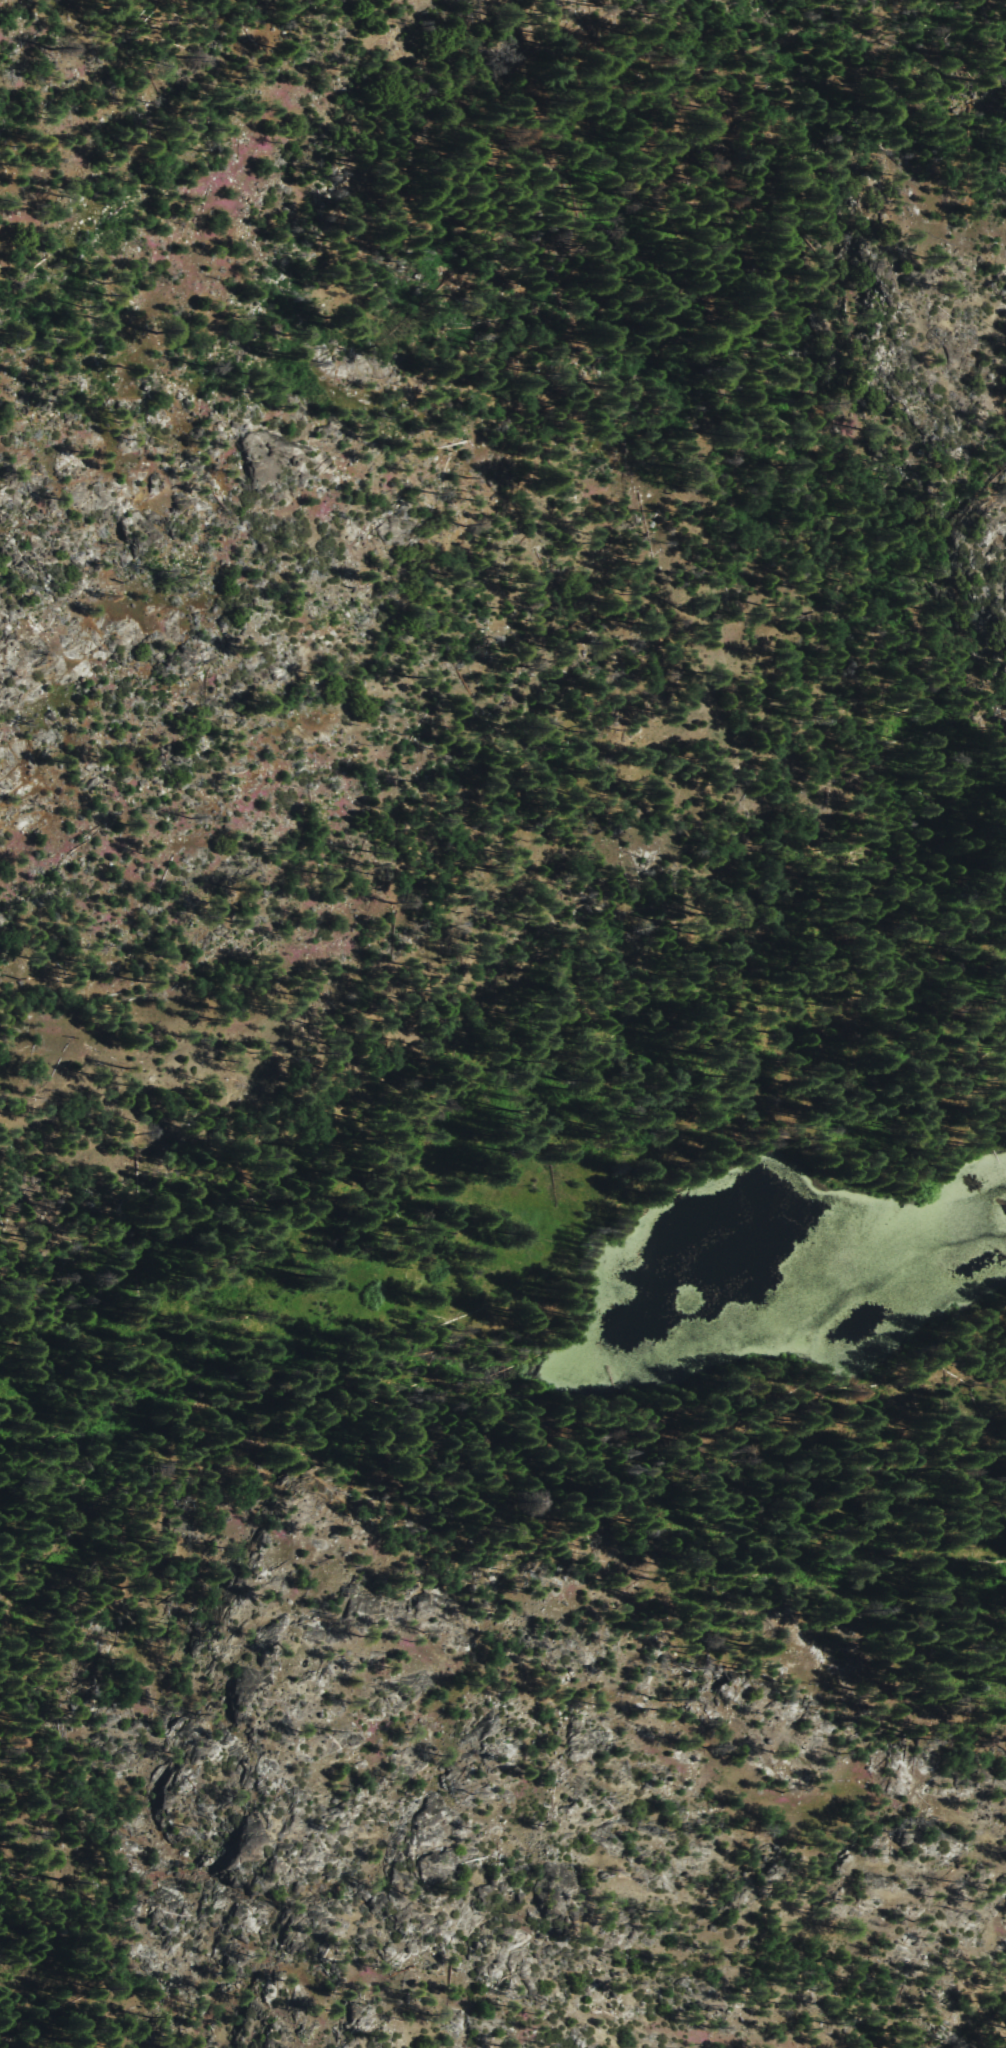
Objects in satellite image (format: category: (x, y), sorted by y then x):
road: (695, 735)
road: (245, 1401)

